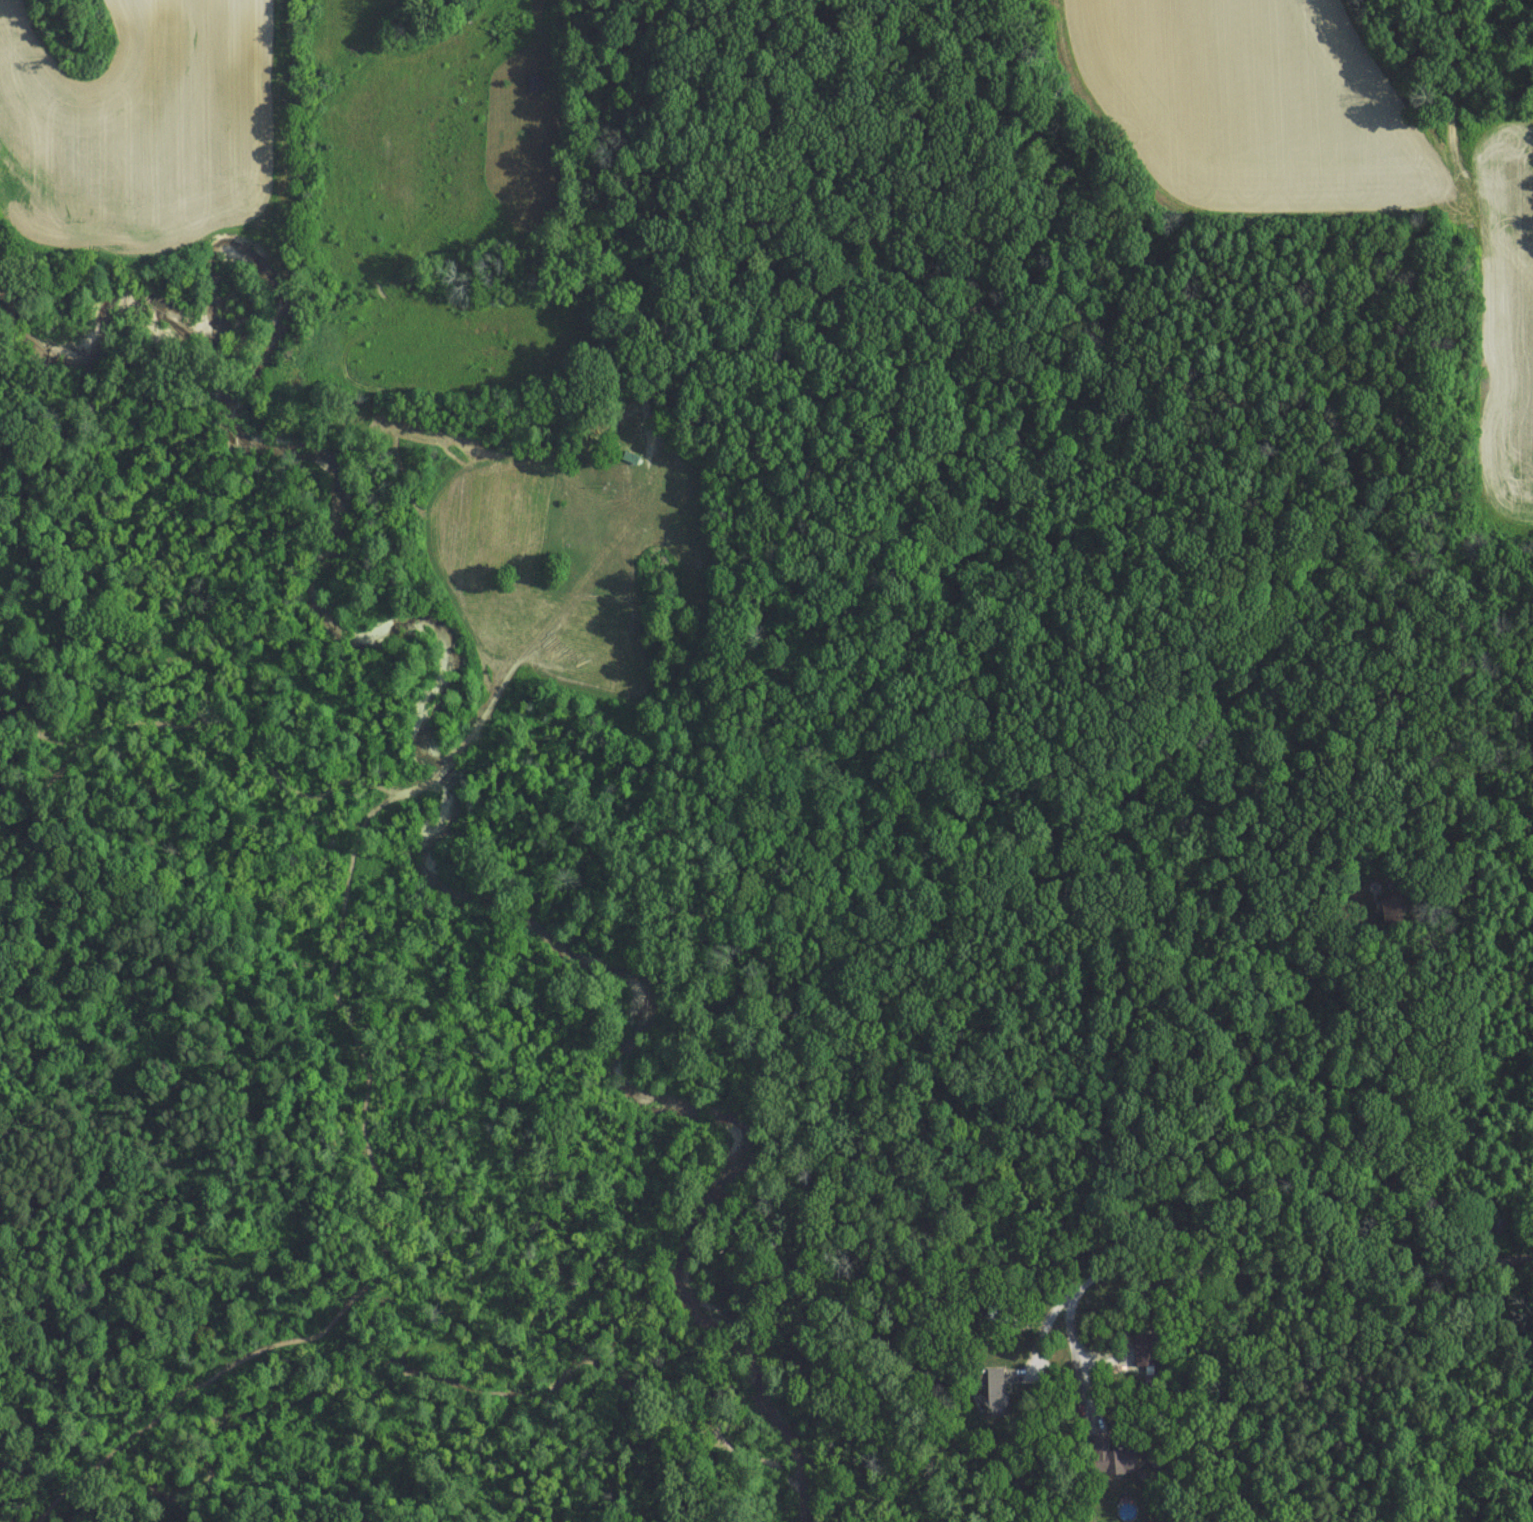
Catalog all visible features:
road: (651, 256)
building: (1392, 905)
road: (1106, 1278)
road: (1482, 1280)
building: (1145, 1358)
building: (1120, 1459)

